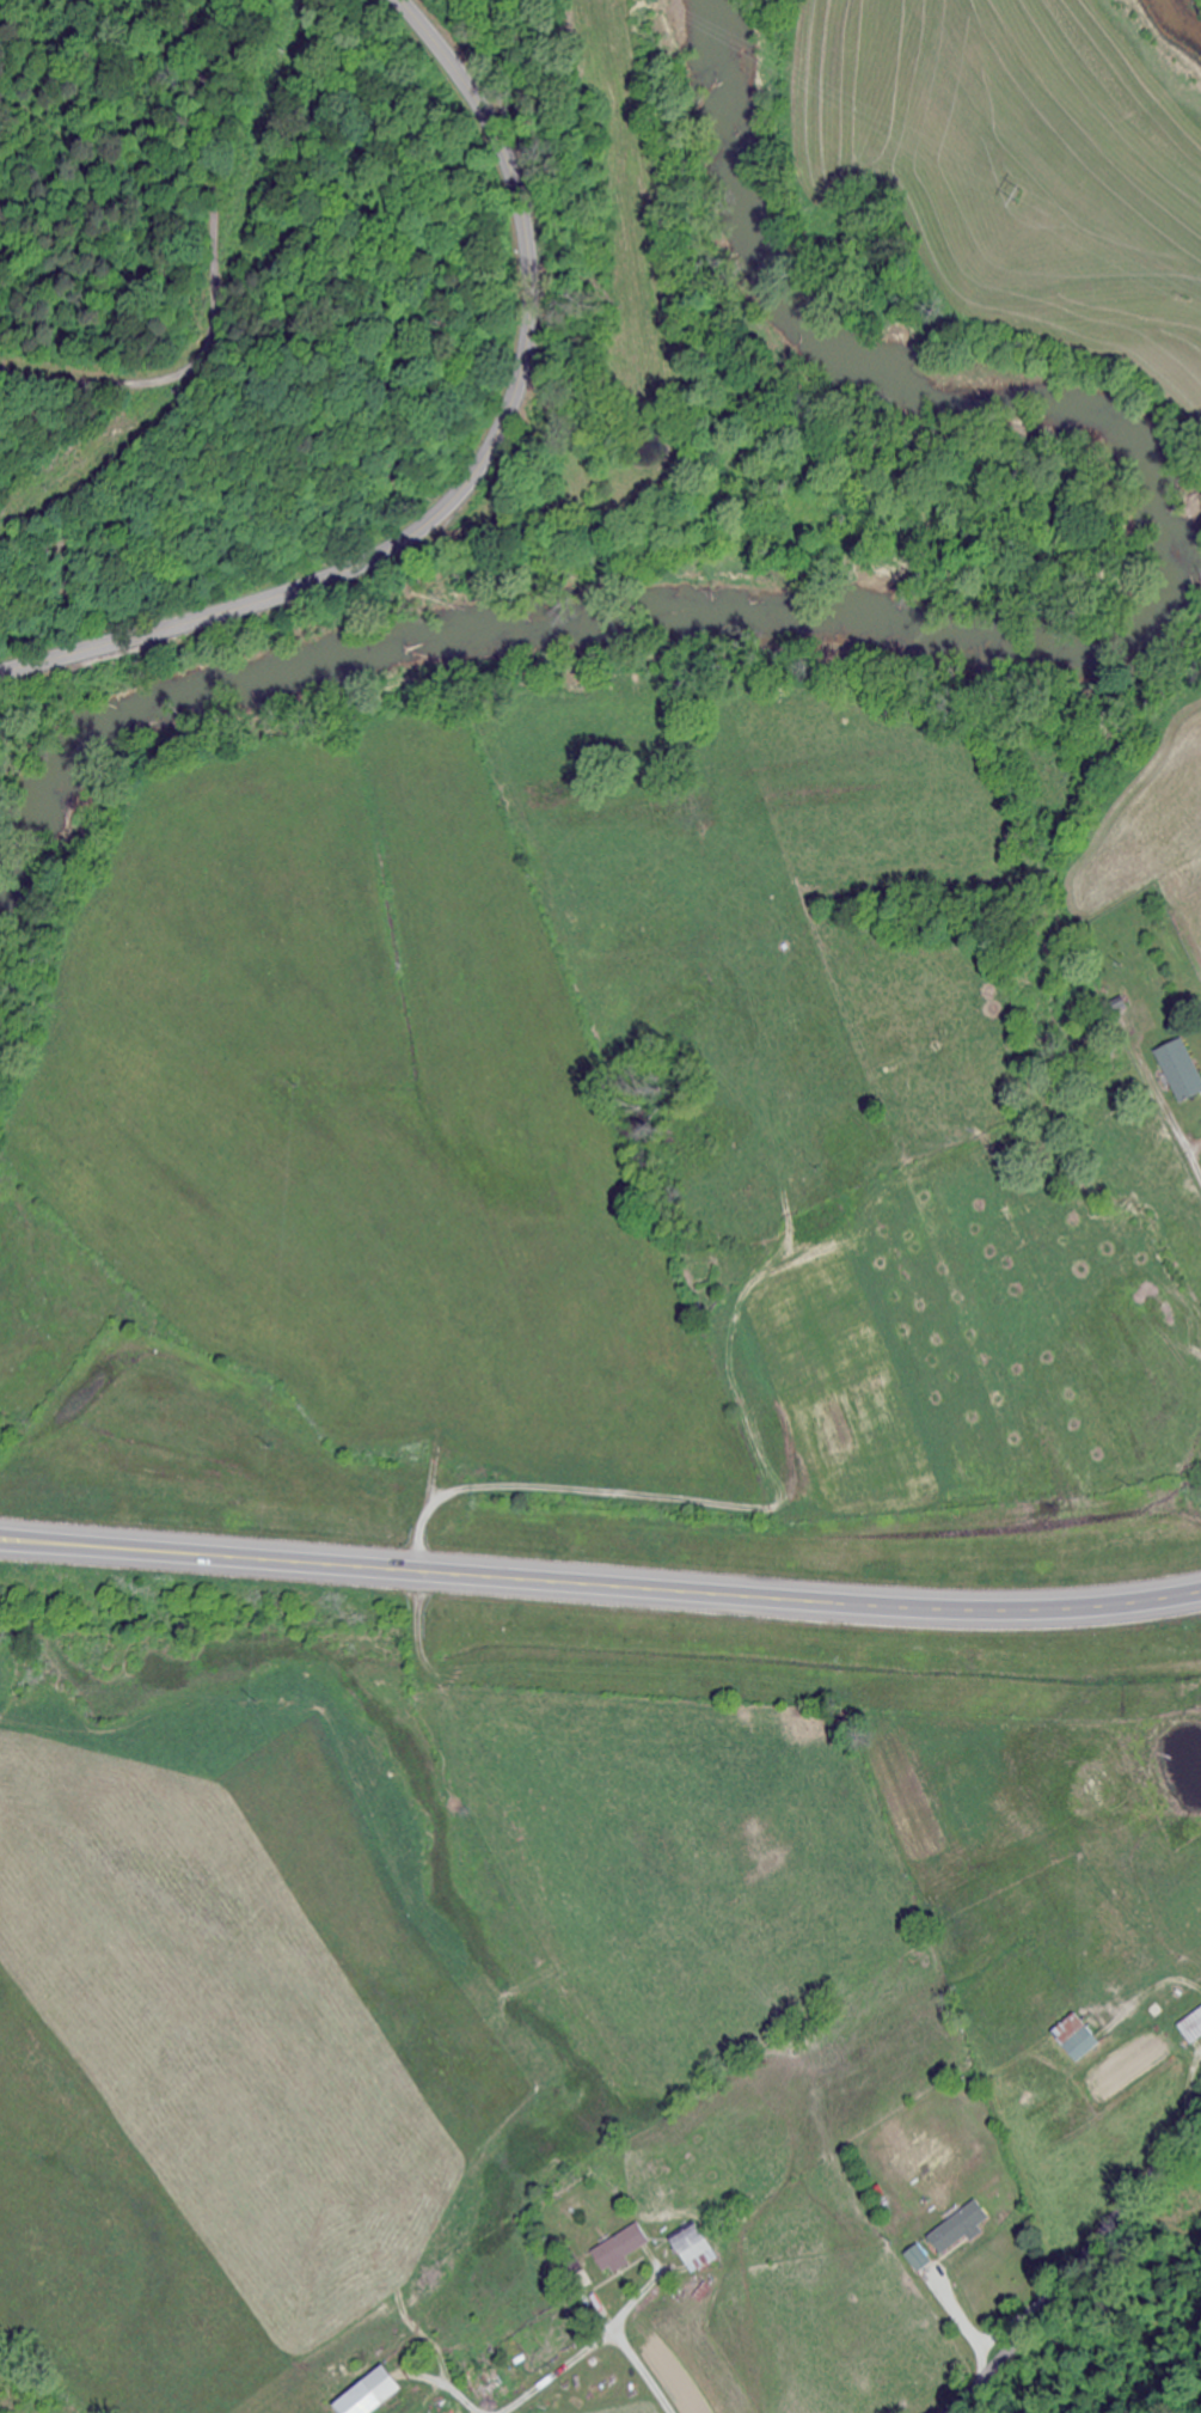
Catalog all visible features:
road: (473, 472)
river: (955, 649)
building: (1181, 1070)
road: (600, 1584)
building: (1191, 2027)
building: (1076, 2039)
building: (957, 2230)
building: (693, 2249)
building: (620, 2252)
building: (917, 2260)
road: (1072, 2268)
building: (492, 2380)
building: (370, 2394)

